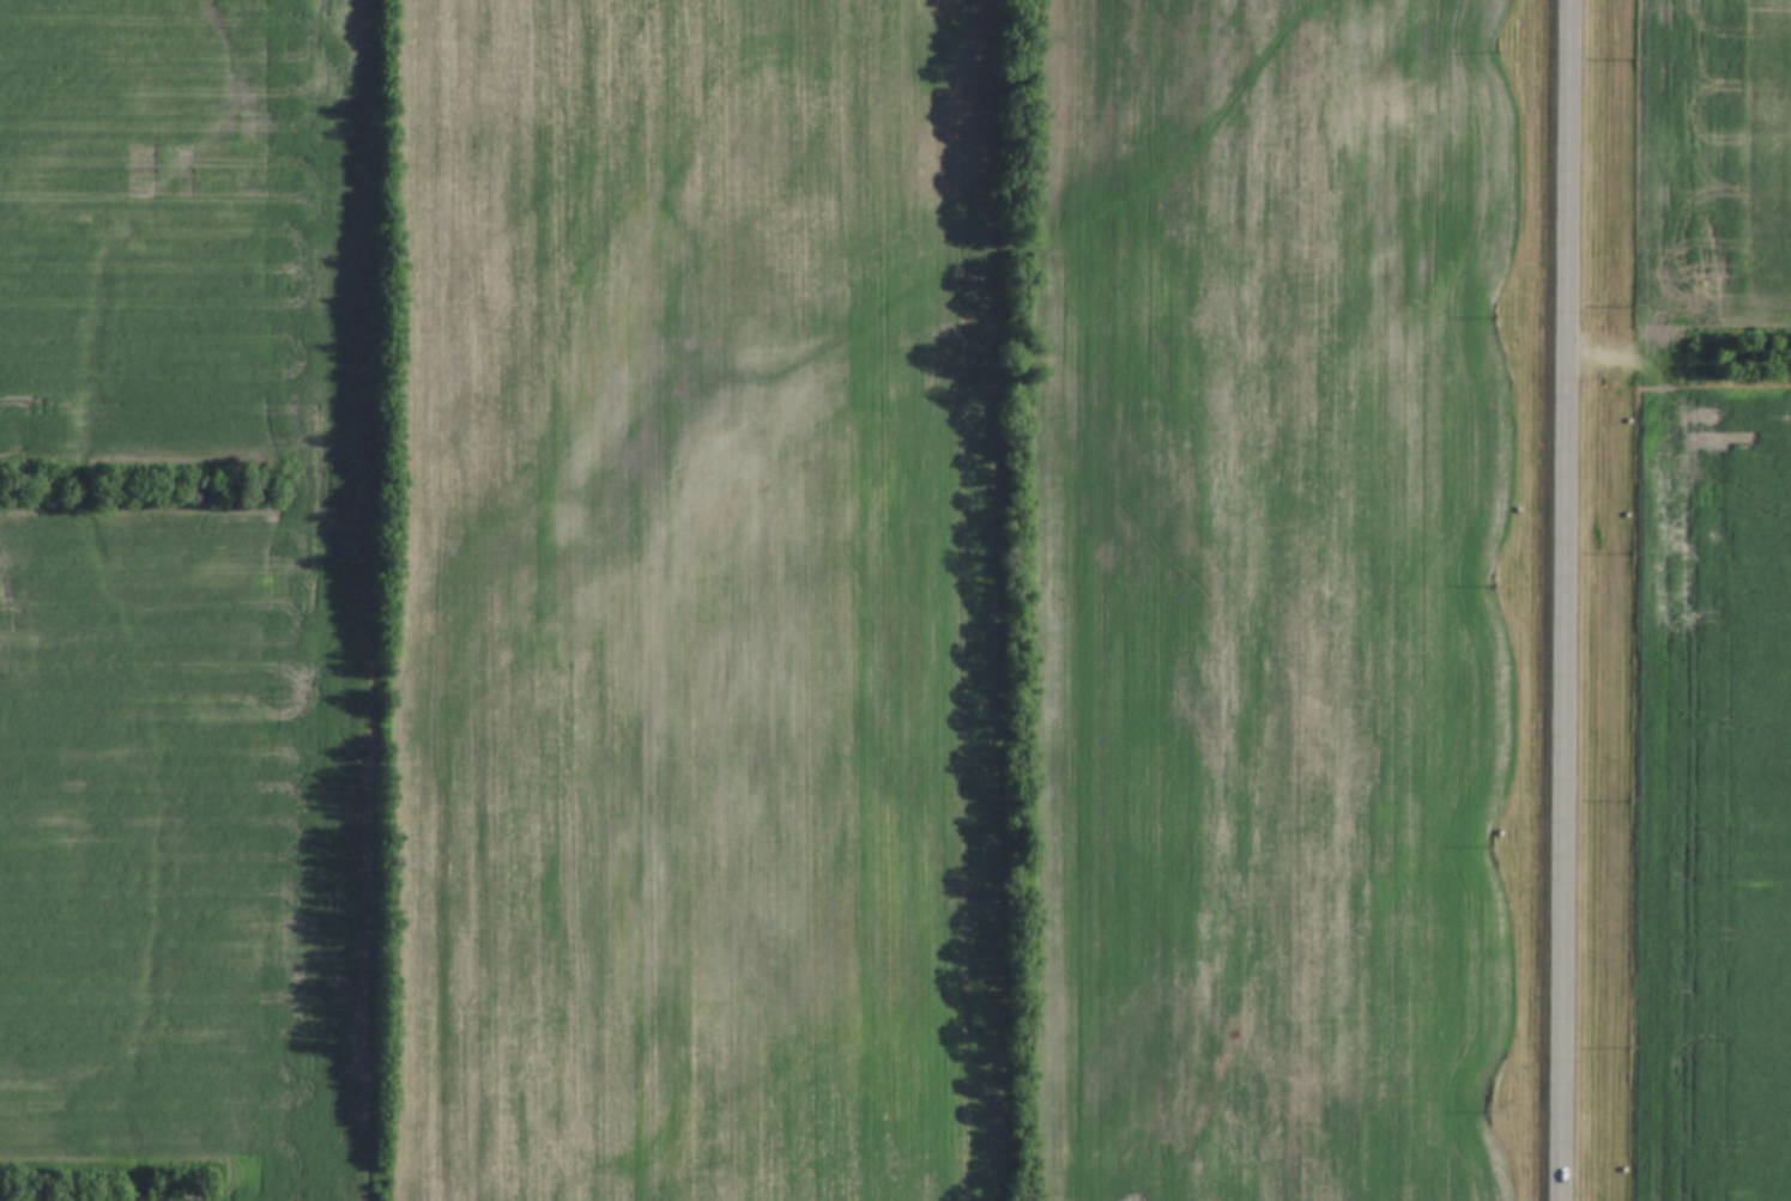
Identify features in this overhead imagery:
road: (1571, 600)

